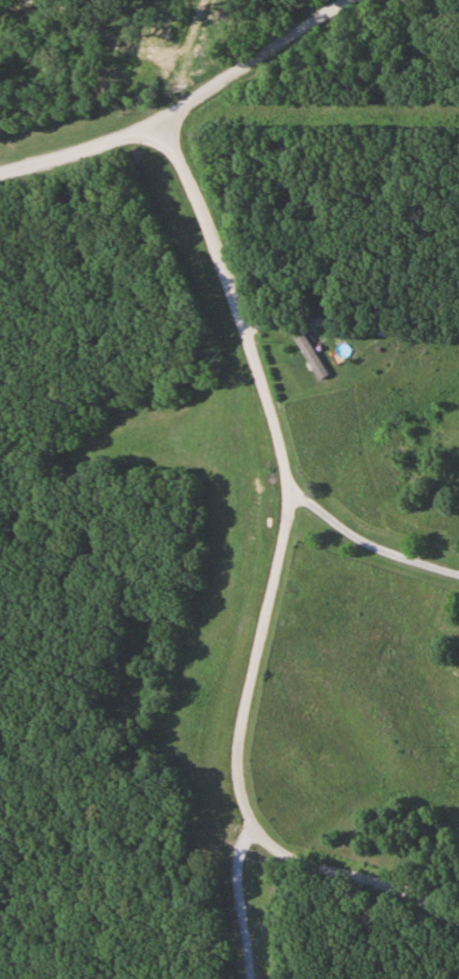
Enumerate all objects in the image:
road: (330, 99)
road: (182, 109)
road: (370, 541)
road: (273, 575)
road: (241, 898)

